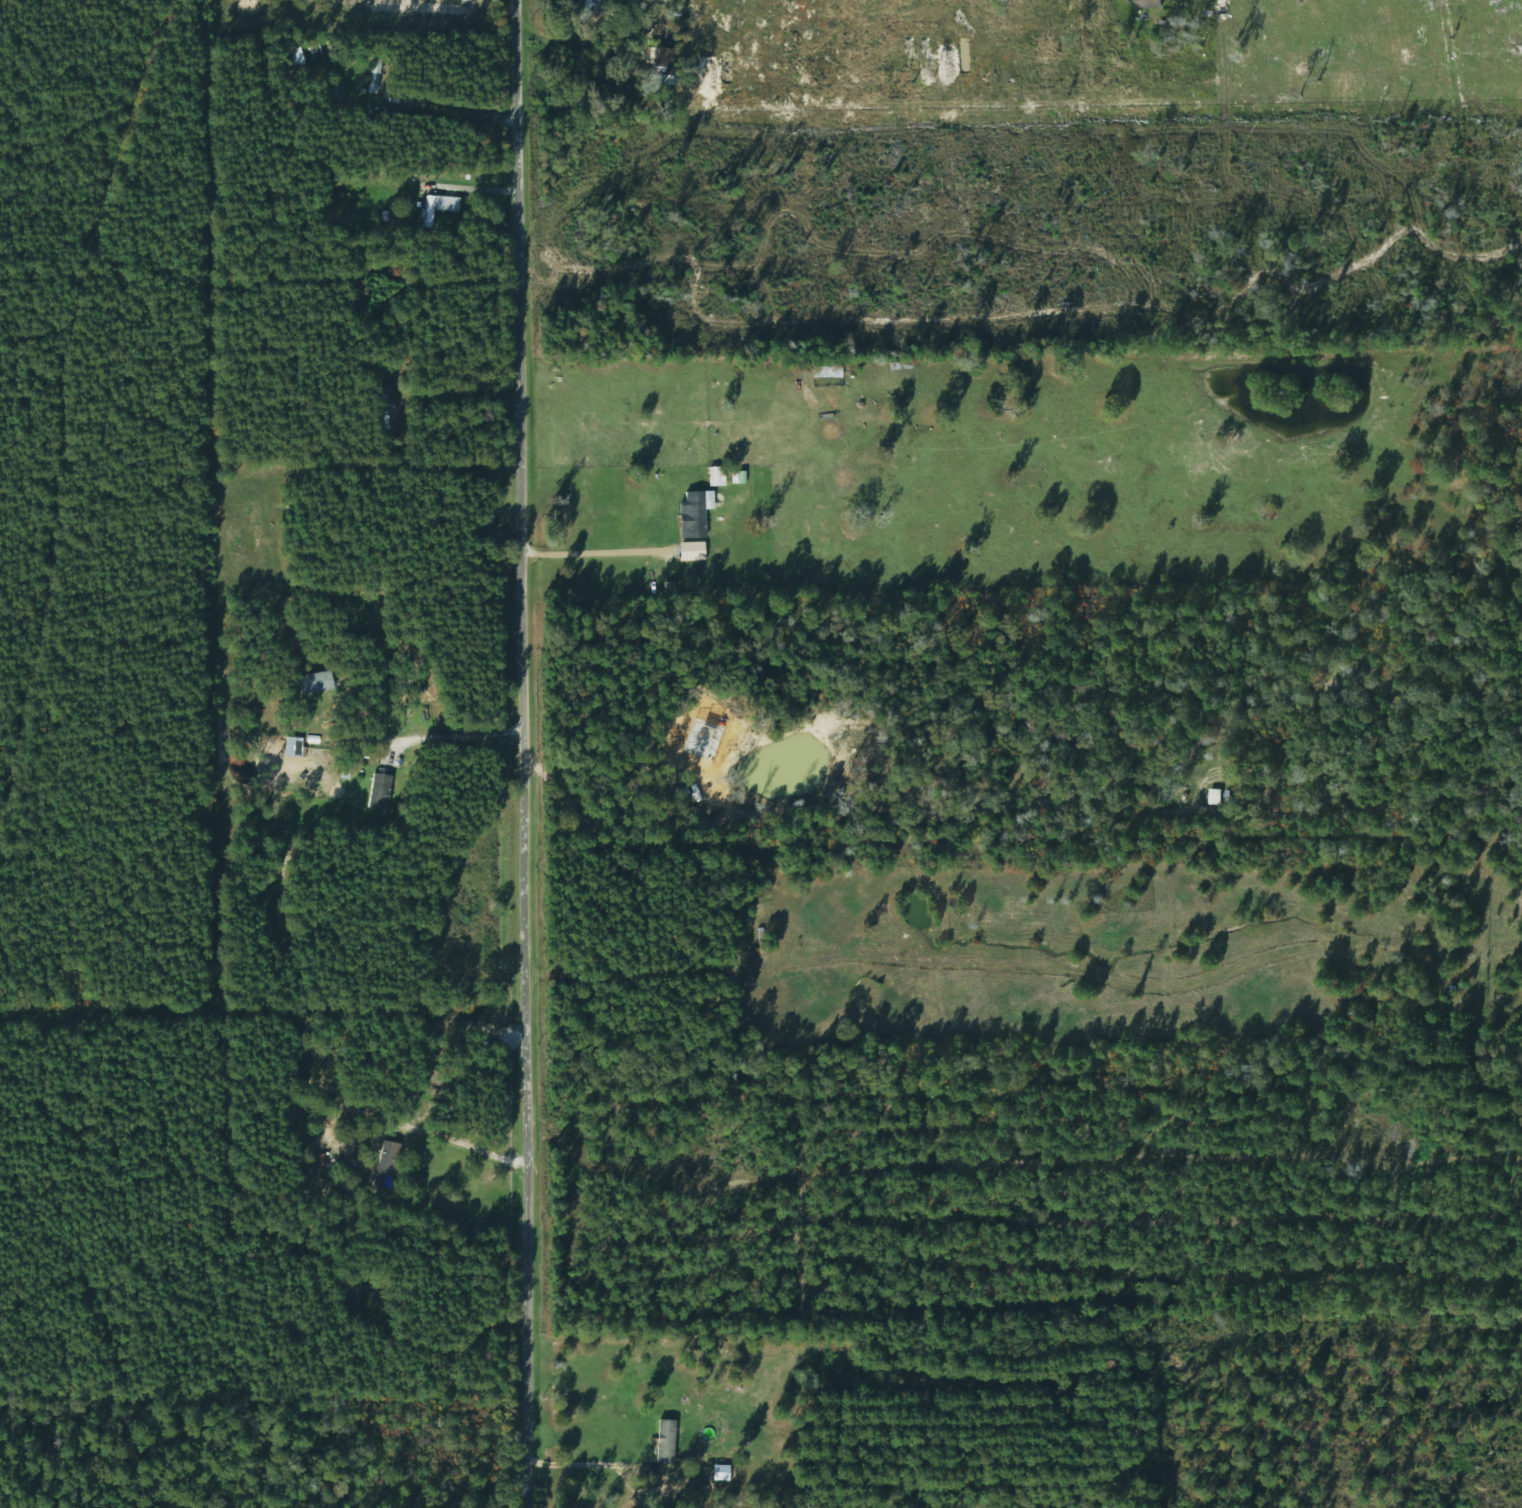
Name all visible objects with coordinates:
building: (1142, 4)
building: (597, 5)
building: (565, 7)
building: (667, 64)
building: (374, 72)
building: (425, 209)
building: (828, 368)
building: (389, 407)
building: (716, 476)
building: (691, 516)
road: (599, 558)
building: (315, 683)
road: (457, 736)
building: (293, 747)
road: (537, 753)
building: (379, 792)
road: (467, 1151)
building: (386, 1165)
building: (351, 1295)
road: (592, 1470)

